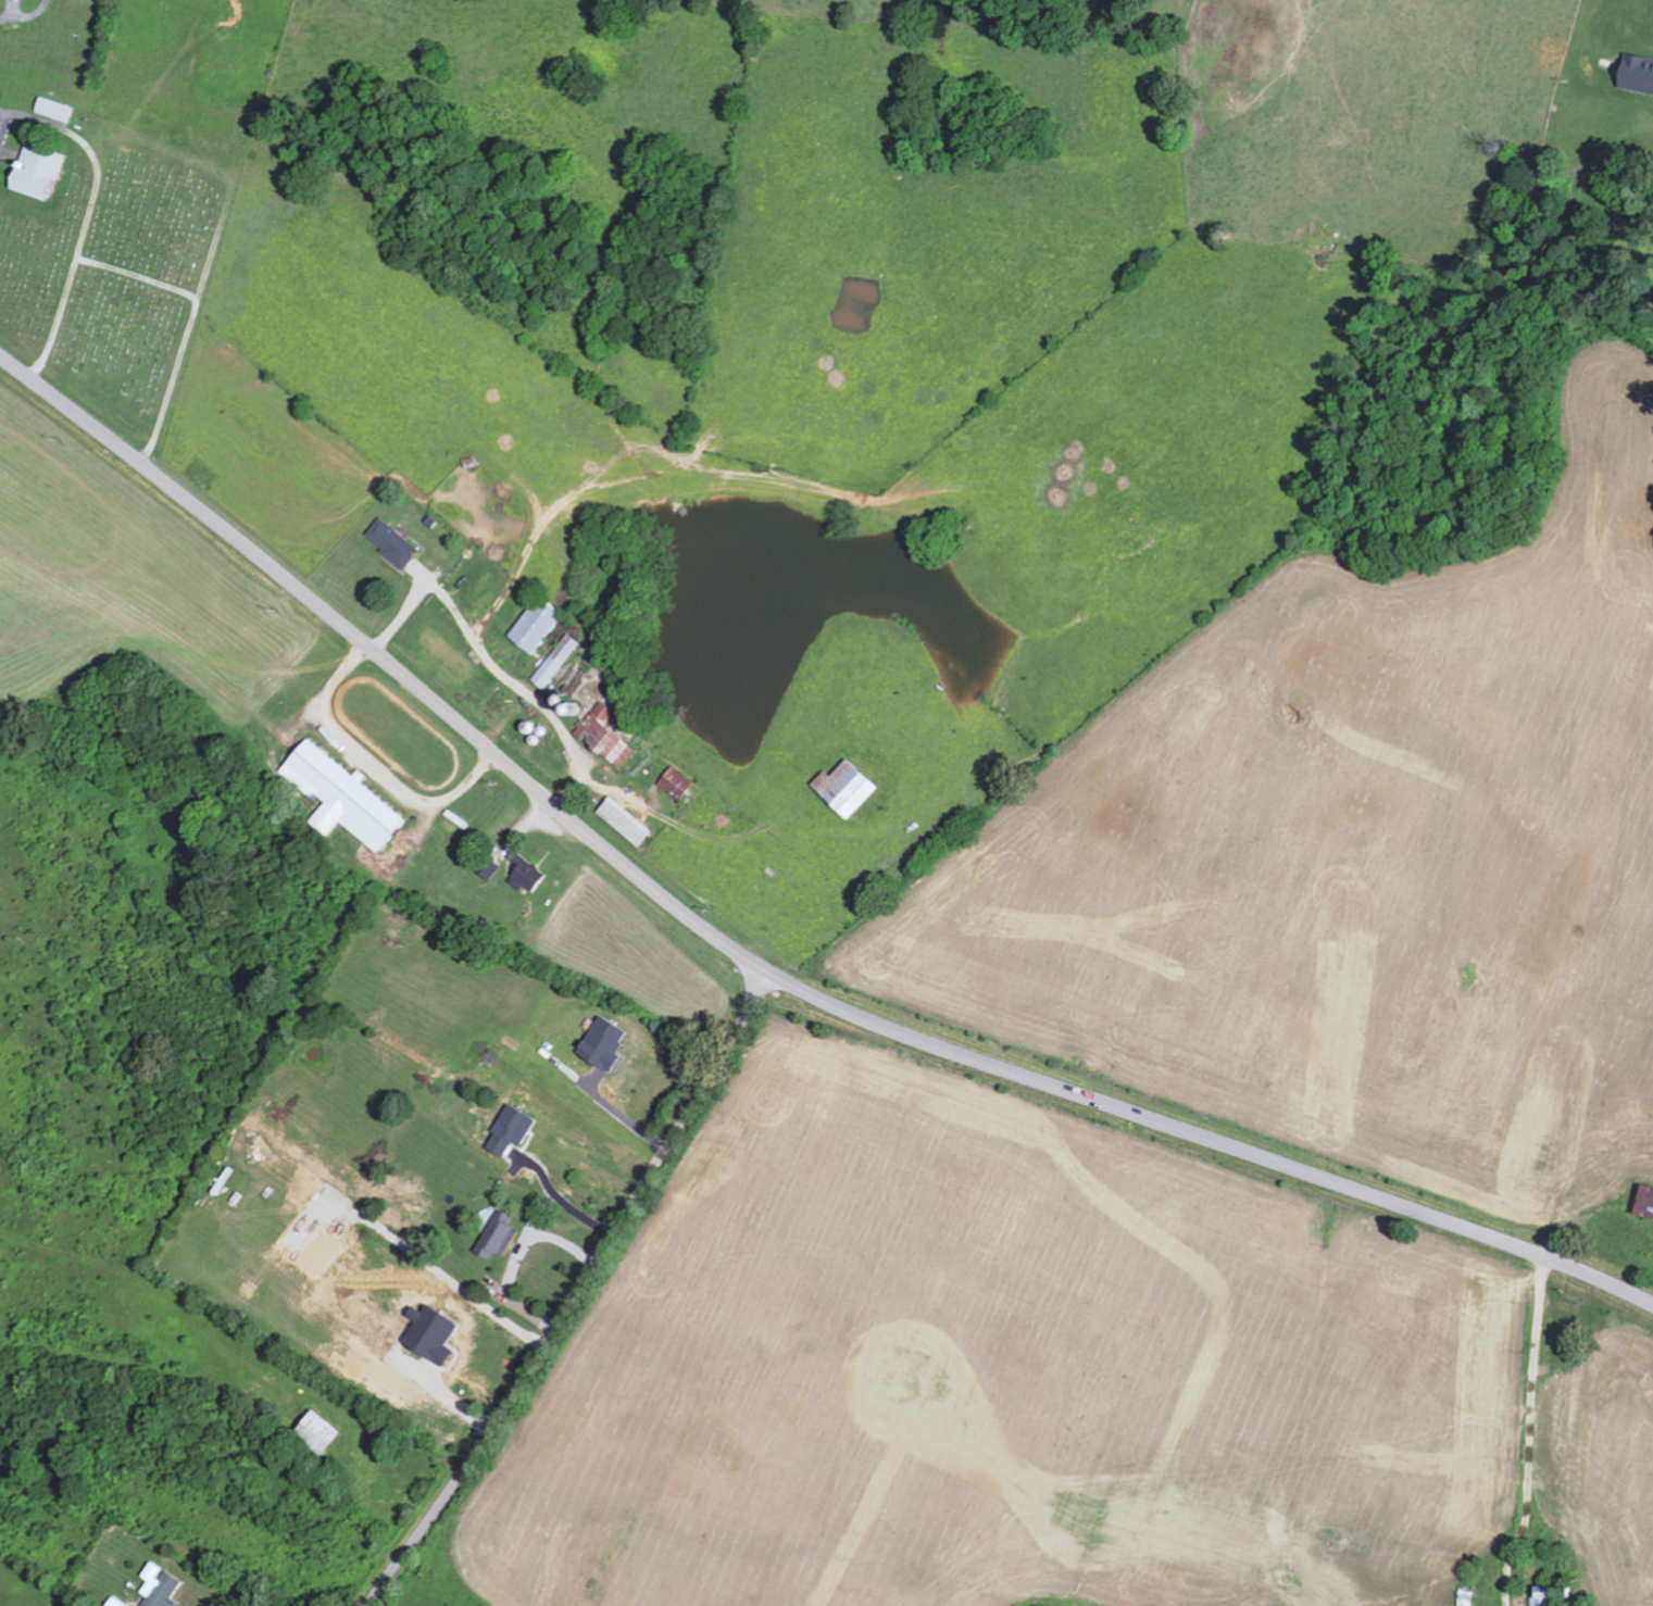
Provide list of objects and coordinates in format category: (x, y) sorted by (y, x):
road: (26, 15)
building: (1636, 73)
building: (52, 109)
building: (34, 171)
park: (116, 273)
building: (390, 543)
building: (533, 625)
building: (553, 661)
road: (490, 669)
building: (603, 737)
road: (372, 763)
building: (674, 782)
building: (842, 788)
building: (339, 796)
building: (622, 821)
building: (525, 876)
road: (752, 961)
road: (760, 993)
building: (601, 1043)
road: (623, 1117)
building: (512, 1129)
building: (1643, 1200)
road: (562, 1201)
building: (494, 1237)
road: (579, 1290)
road: (1529, 1433)
building: (158, 1586)
building: (1546, 1593)
building: (113, 1602)

